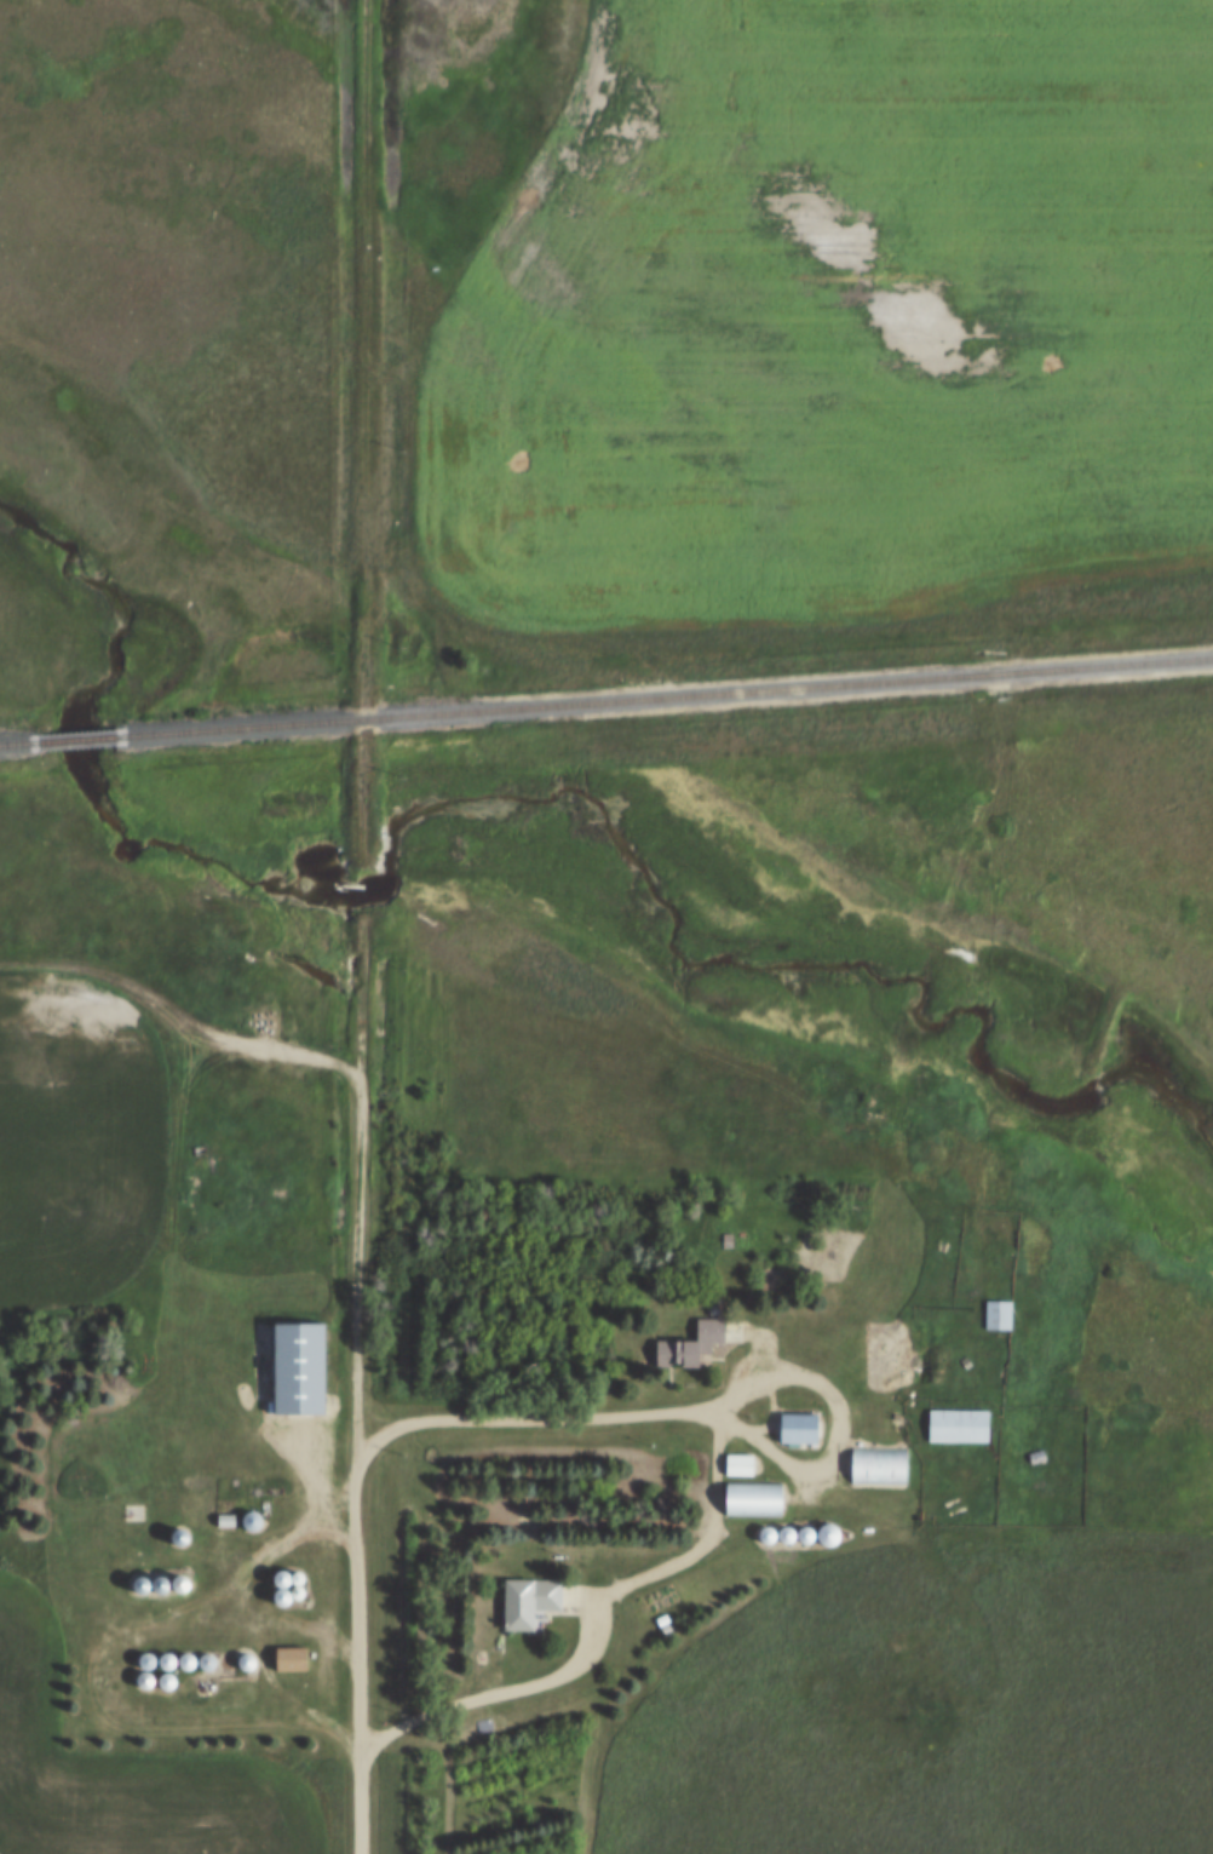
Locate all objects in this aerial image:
road: (363, 431)
railway: (661, 694)
railway: (73, 737)
railway: (17, 741)
road: (357, 1190)
building: (719, 1303)
building: (1004, 1309)
building: (993, 1314)
building: (696, 1341)
building: (304, 1362)
road: (758, 1383)
building: (964, 1420)
building: (803, 1422)
building: (1044, 1451)
building: (743, 1459)
building: (885, 1459)
building: (732, 1464)
building: (758, 1492)
building: (200, 1499)
building: (231, 1514)
building: (255, 1515)
silo: (255, 1515)
building: (771, 1529)
silo: (771, 1529)
building: (791, 1529)
silo: (791, 1529)
building: (810, 1529)
silo: (810, 1529)
building: (833, 1529)
silo: (833, 1529)
building: (183, 1531)
silo: (183, 1531)
building: (301, 1572)
silo: (301, 1572)
building: (284, 1573)
silo: (284, 1573)
building: (184, 1577)
silo: (184, 1577)
building: (144, 1579)
silo: (144, 1579)
building: (163, 1579)
silo: (163, 1579)
building: (301, 1586)
silo: (301, 1586)
building: (284, 1591)
silo: (284, 1591)
building: (534, 1595)
building: (669, 1618)
building: (151, 1654)
silo: (151, 1654)
building: (295, 1654)
building: (172, 1655)
silo: (172, 1655)
building: (191, 1657)
silo: (191, 1657)
building: (212, 1657)
silo: (212, 1657)
building: (251, 1657)
silo: (251, 1657)
road: (356, 1663)
building: (149, 1674)
silo: (149, 1674)
building: (172, 1676)
silo: (172, 1676)

